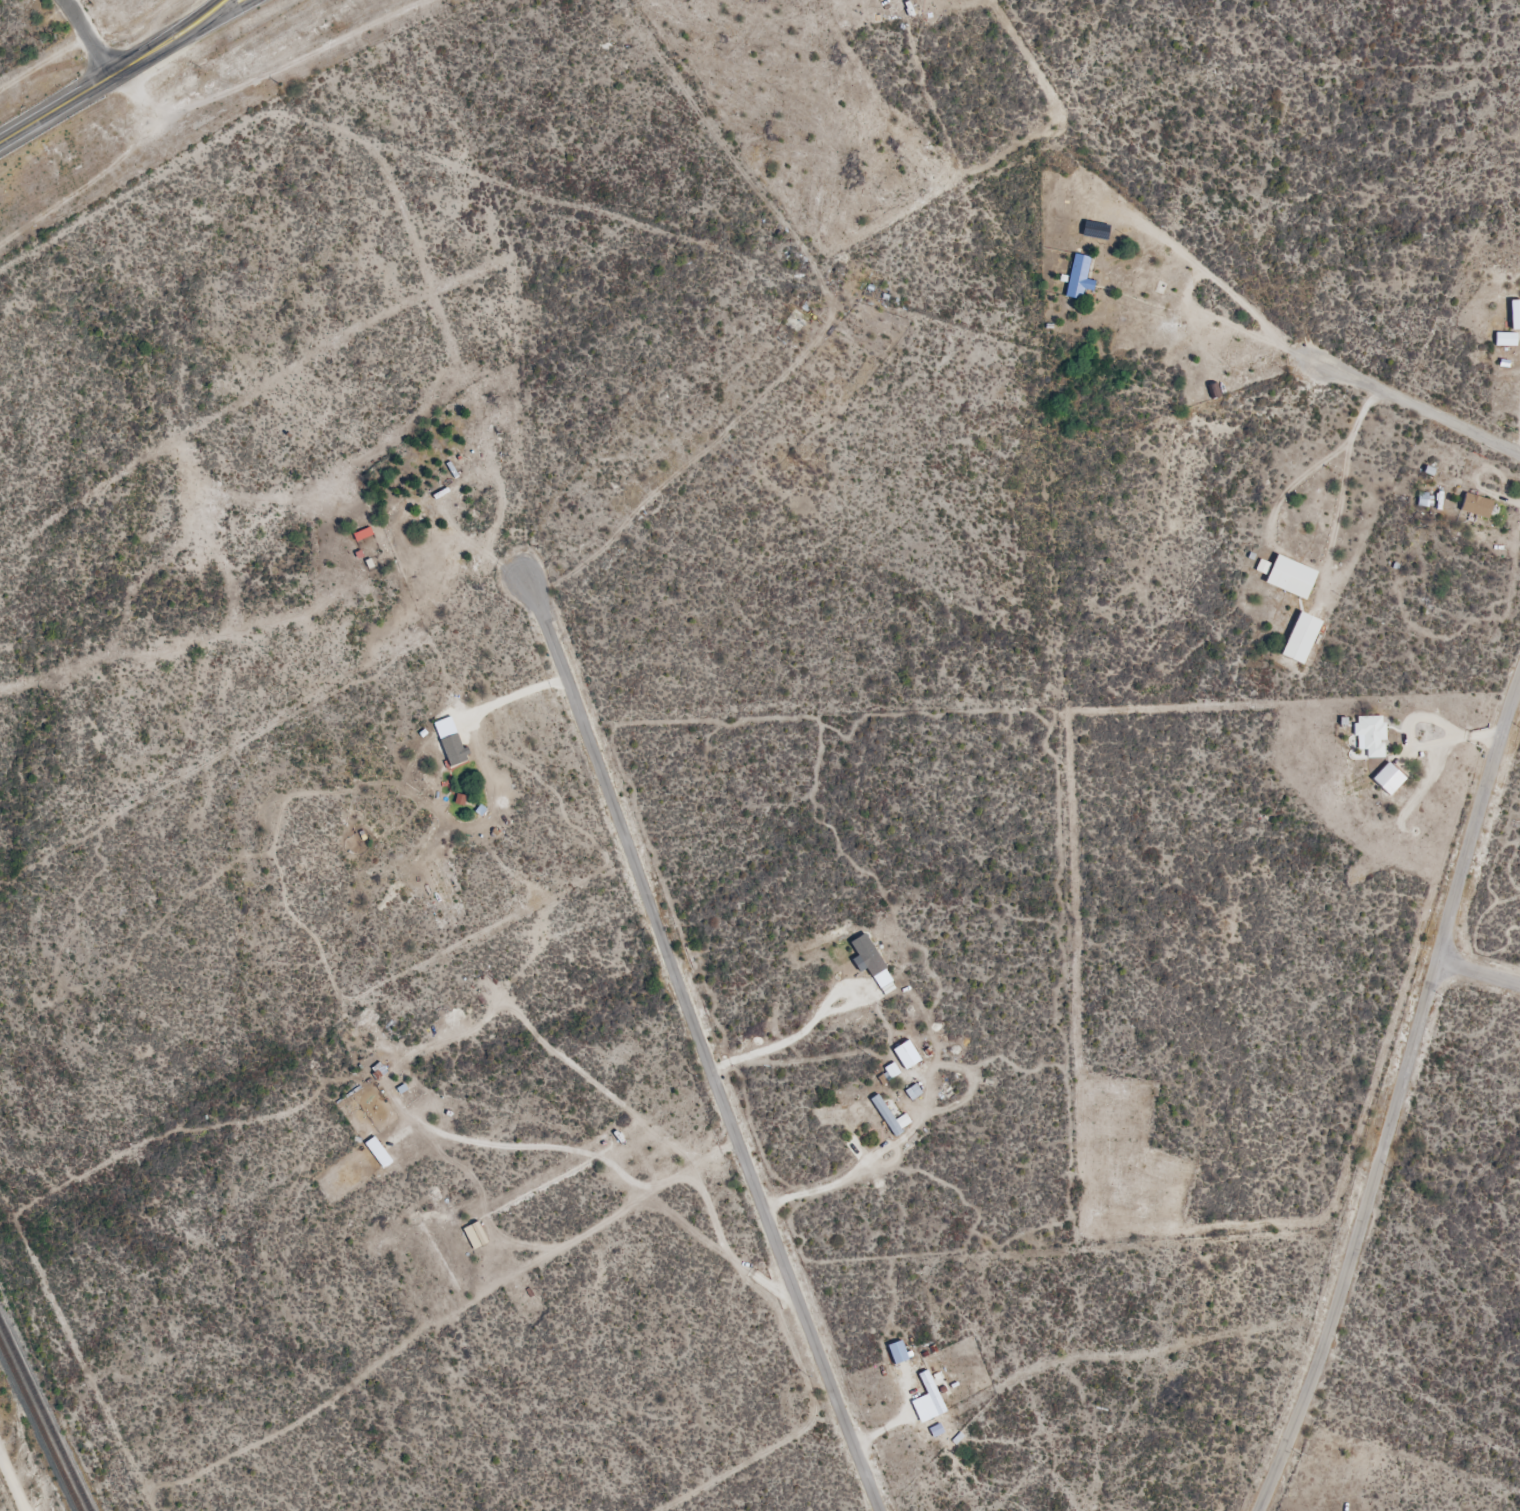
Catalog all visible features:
road: (88, 37)
road: (186, 37)
road: (113, 73)
building: (1078, 277)
building: (1514, 315)
building: (1212, 391)
road: (1418, 407)
building: (1423, 500)
building: (1475, 506)
building: (362, 534)
building: (1285, 575)
building: (1299, 637)
building: (1371, 734)
road: (1479, 972)
road: (703, 1048)
road: (1397, 1099)
building: (890, 1117)
building: (896, 1353)
building: (931, 1393)
railway: (45, 1416)
railway: (40, 1426)
road: (18, 1471)

